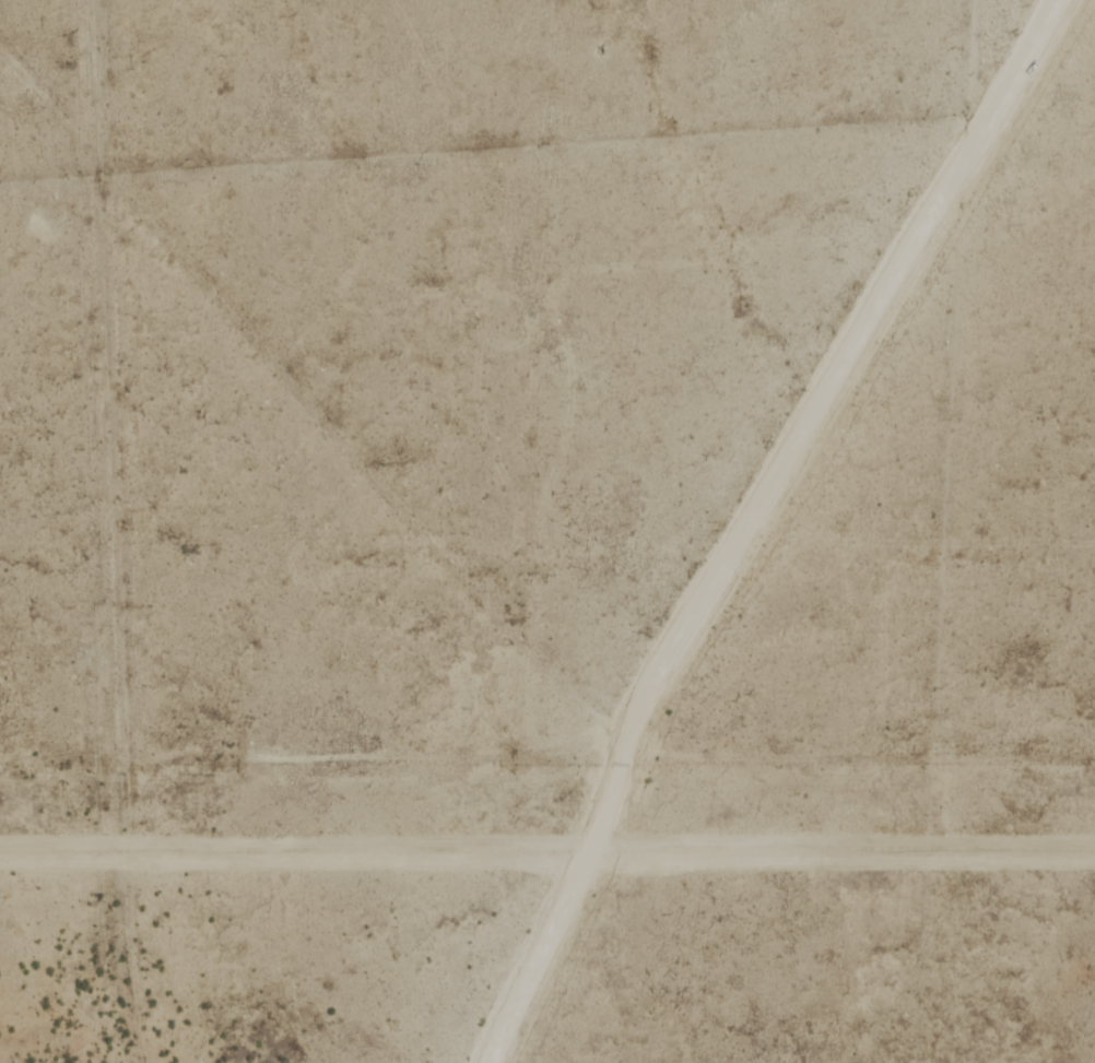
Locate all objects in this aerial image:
road: (755, 520)
road: (86, 616)

